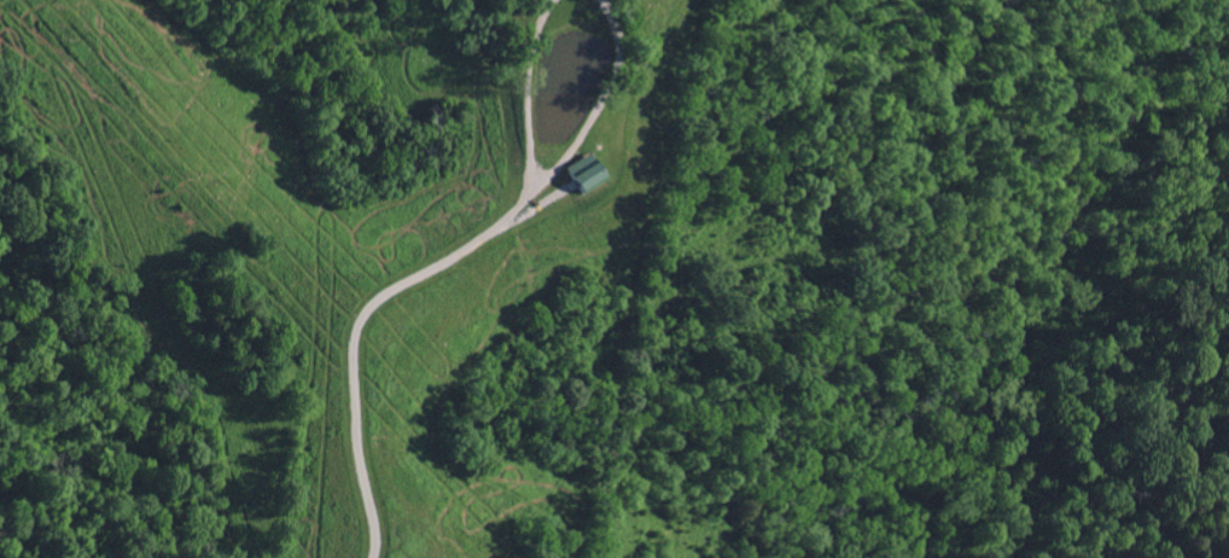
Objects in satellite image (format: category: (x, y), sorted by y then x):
building: (578, 172)

